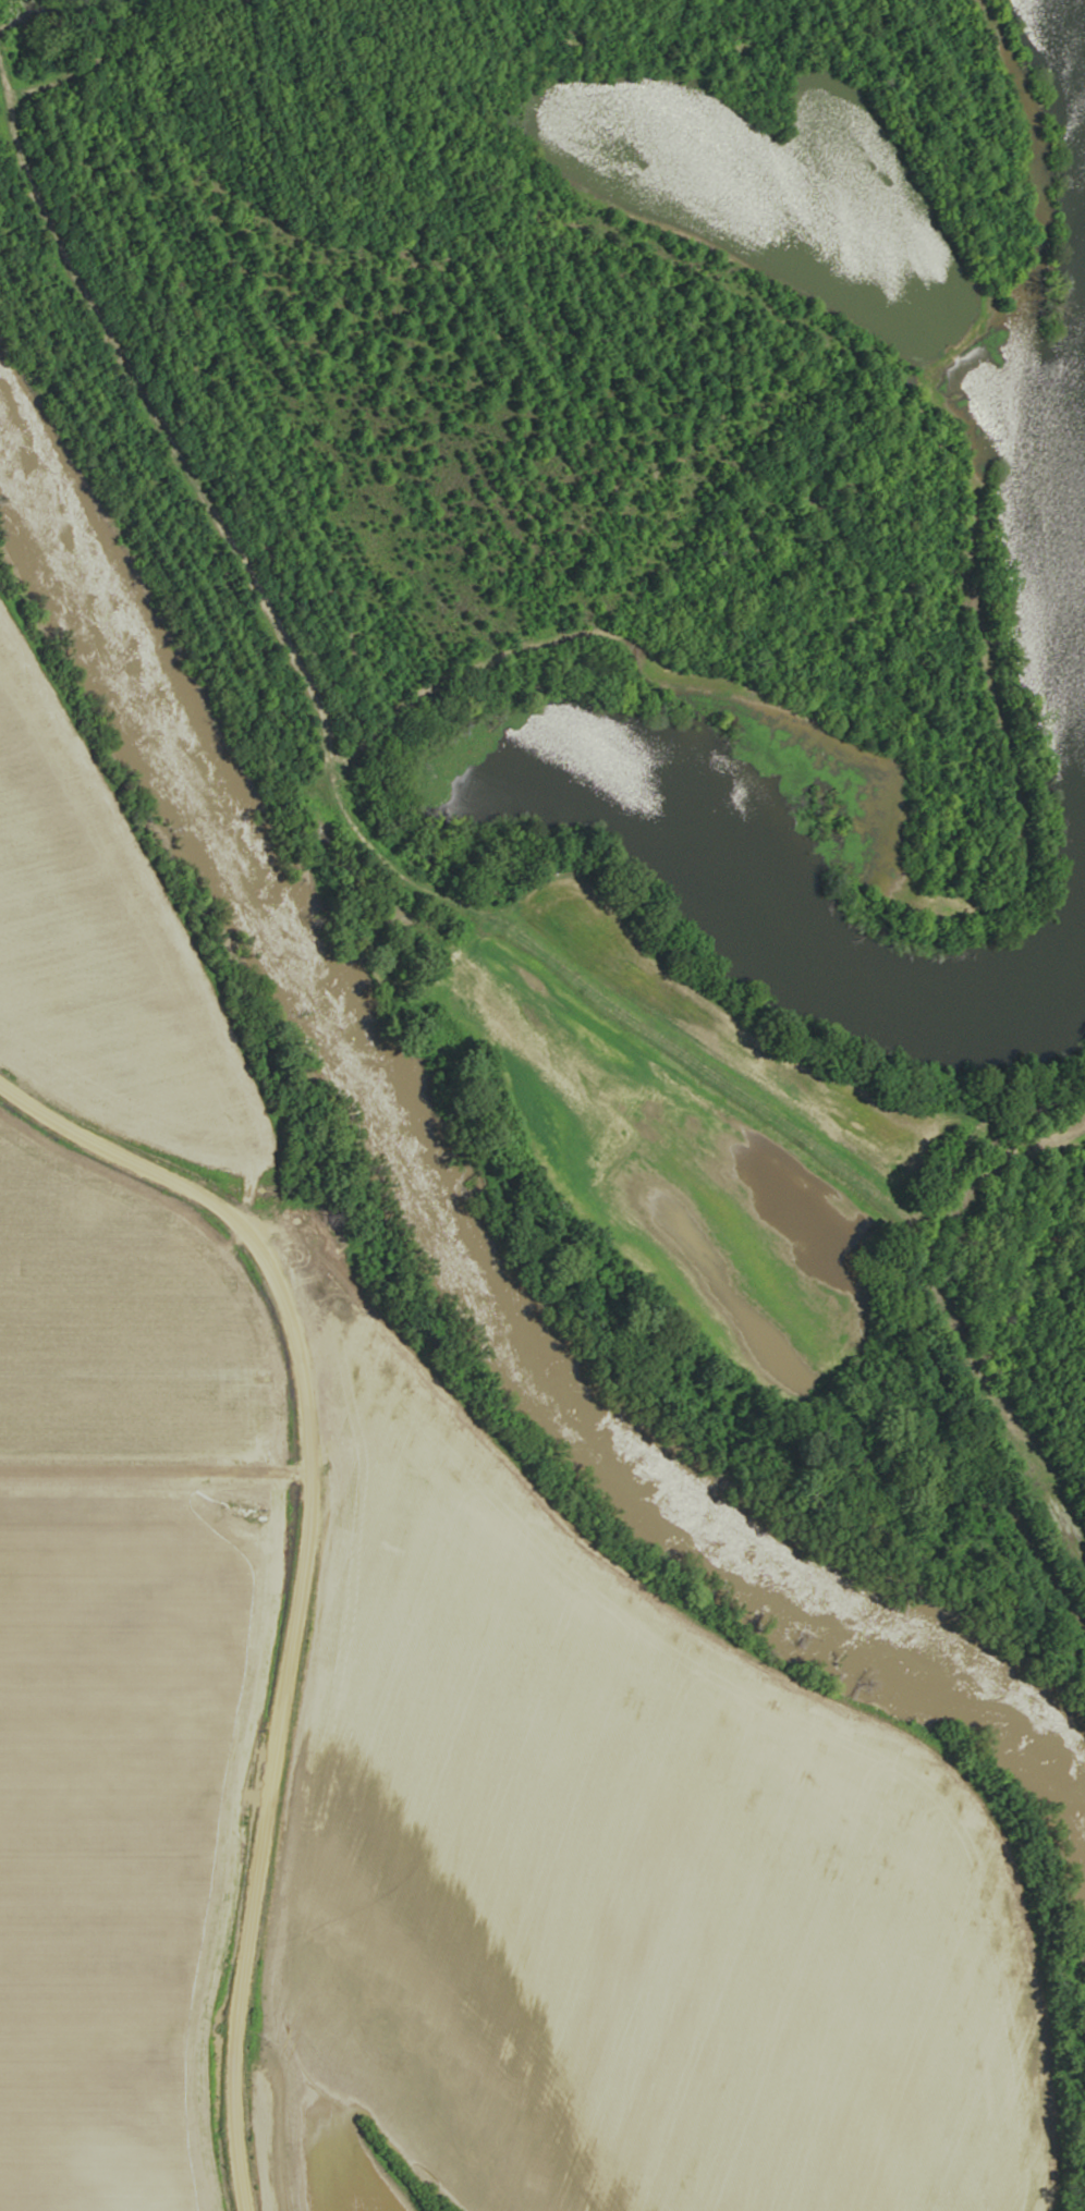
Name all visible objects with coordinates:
road: (1016, 1092)
river: (442, 1225)
road: (283, 1609)

